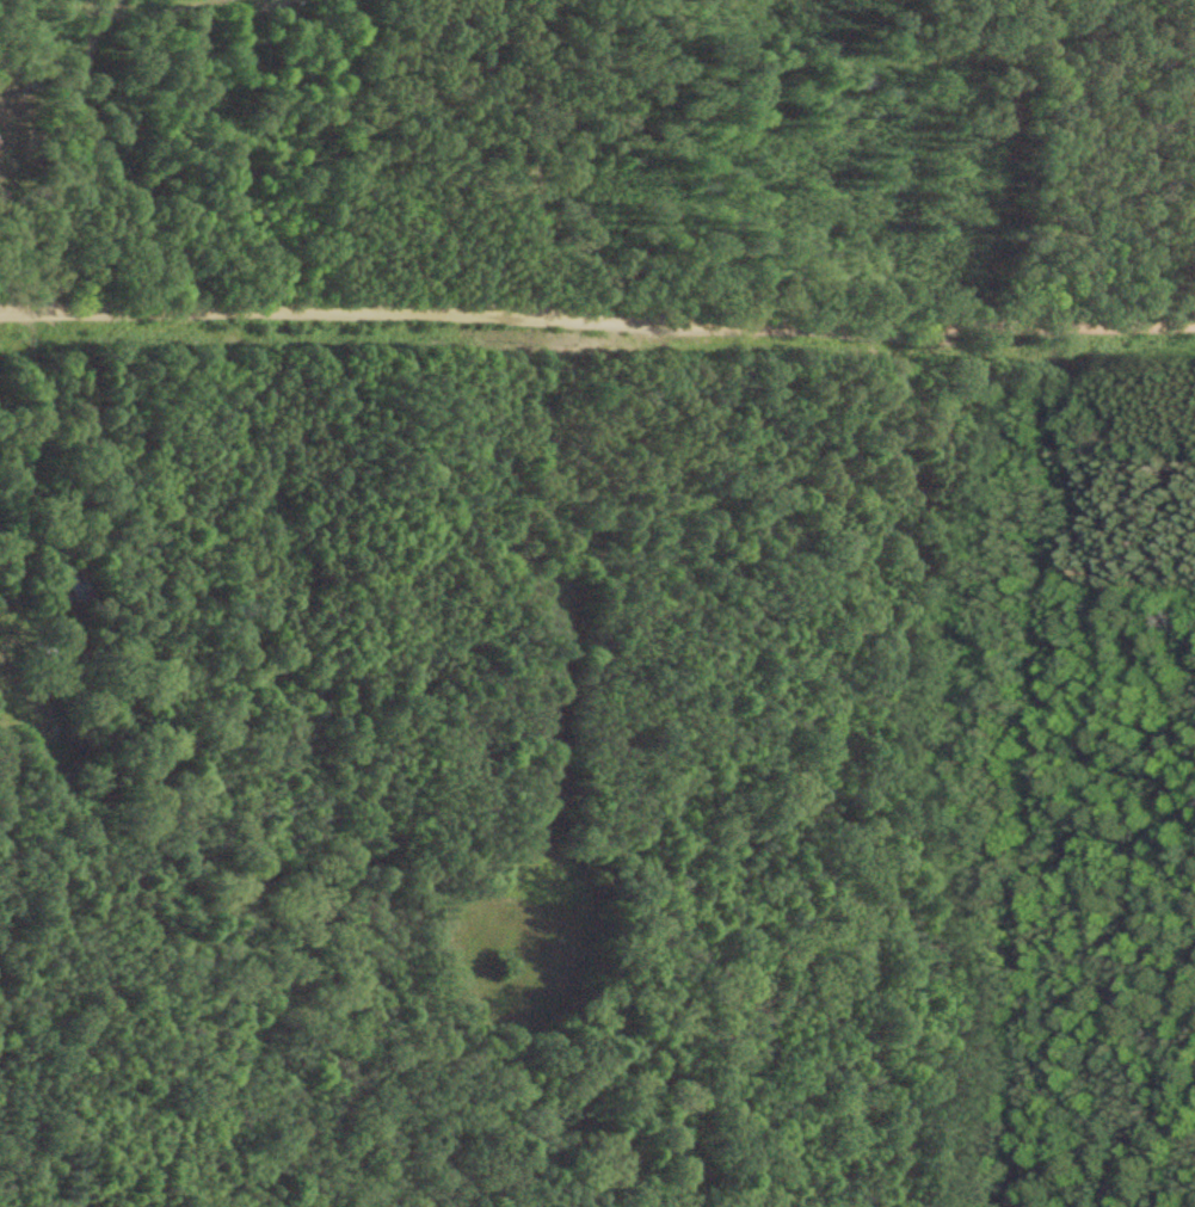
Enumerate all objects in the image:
road: (82, 119)
road: (597, 314)
road: (29, 447)

